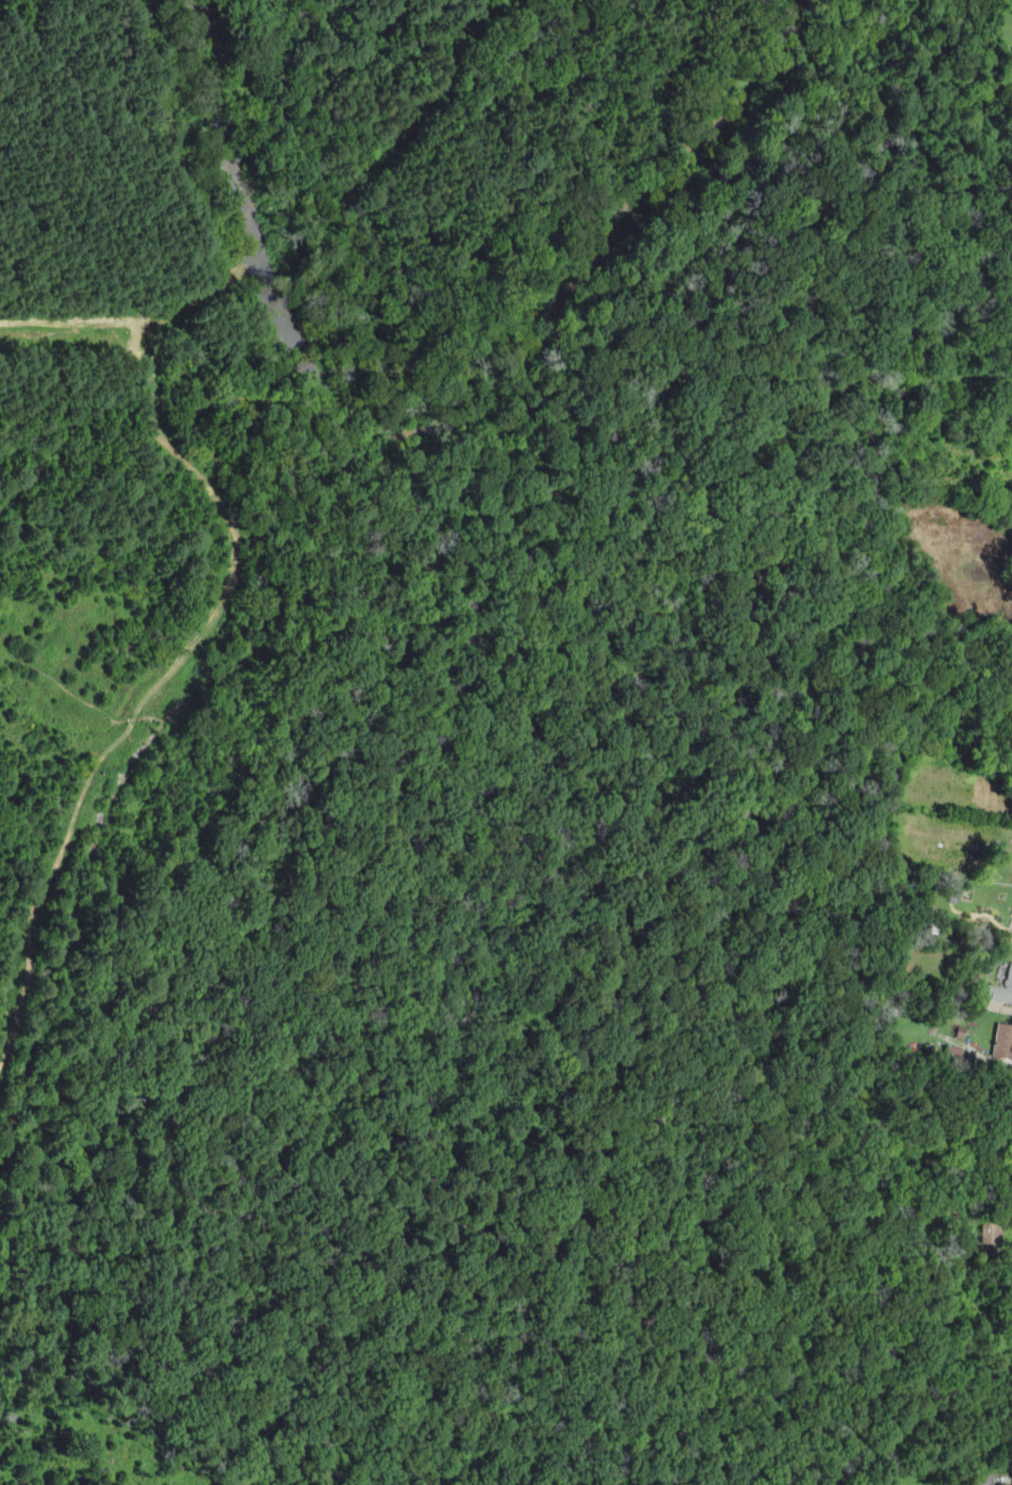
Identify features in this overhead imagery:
building: (905, 889)
building: (952, 889)
building: (1000, 989)
building: (960, 1031)
building: (1002, 1040)
building: (955, 1051)
building: (981, 1479)

